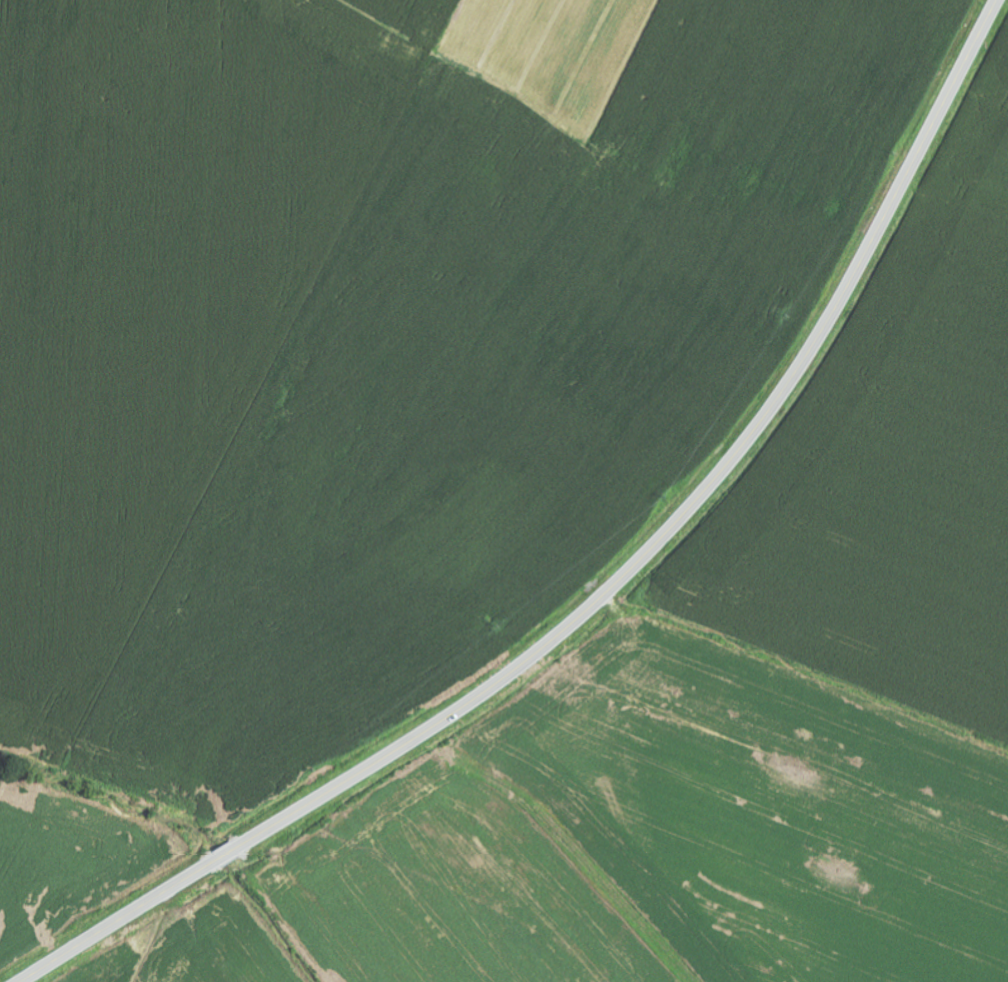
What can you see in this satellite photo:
road: (609, 586)

